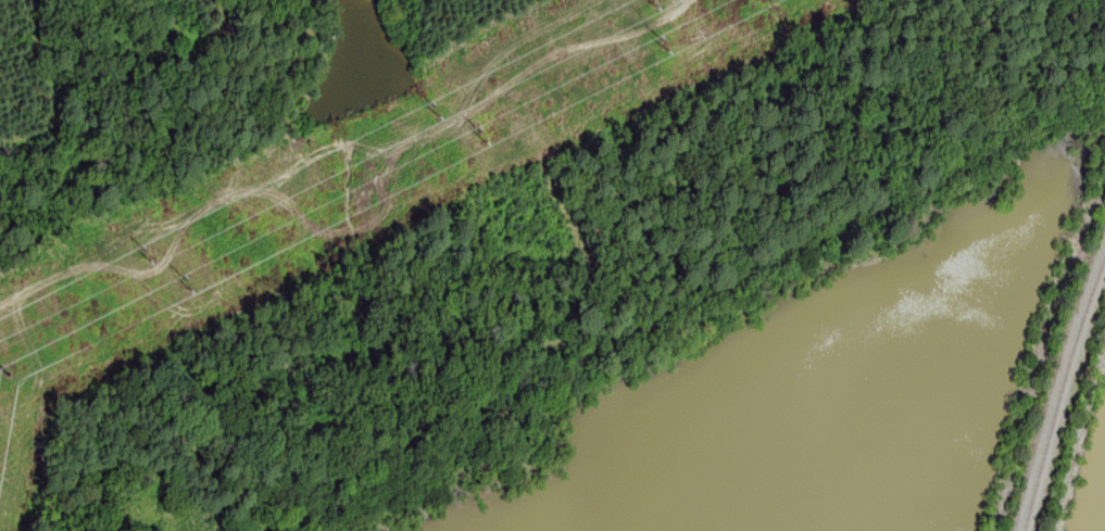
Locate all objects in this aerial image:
power tower: (667, 39)
power tower: (436, 105)
power tower: (485, 138)
power tower: (146, 246)
road: (628, 281)
power tower: (187, 283)
power tower: (25, 370)
railway: (1060, 395)

